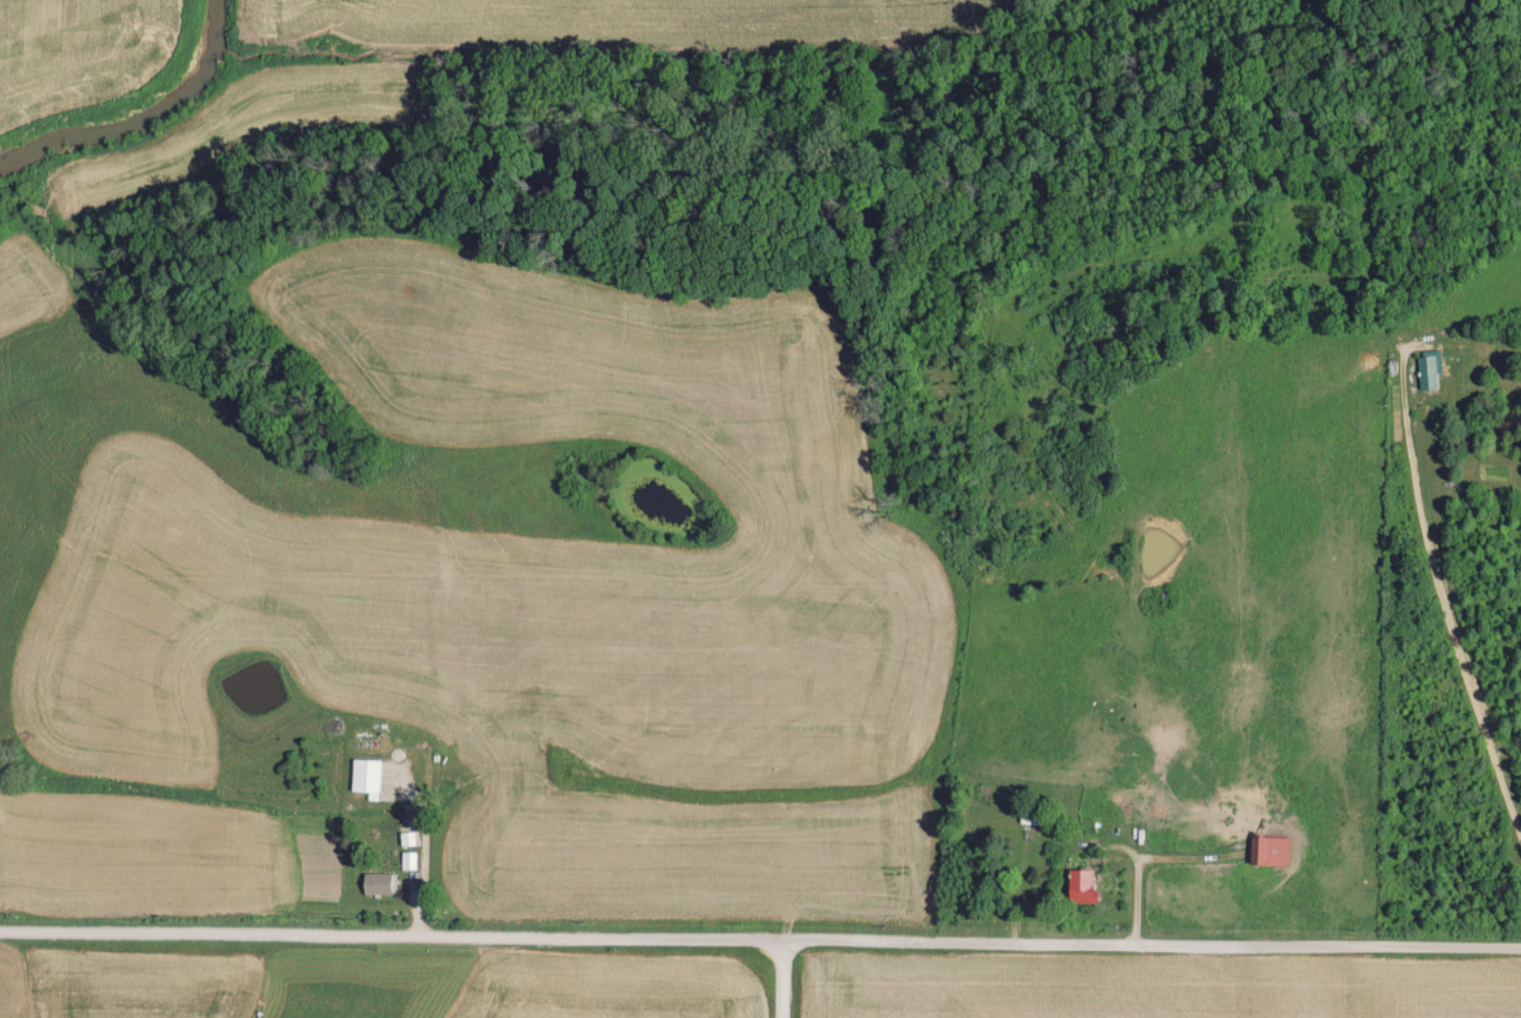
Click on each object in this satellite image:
building: (1427, 370)
building: (364, 776)
building: (406, 837)
building: (1269, 850)
building: (407, 859)
building: (375, 883)
building: (1079, 885)
road: (760, 935)
road: (784, 977)

